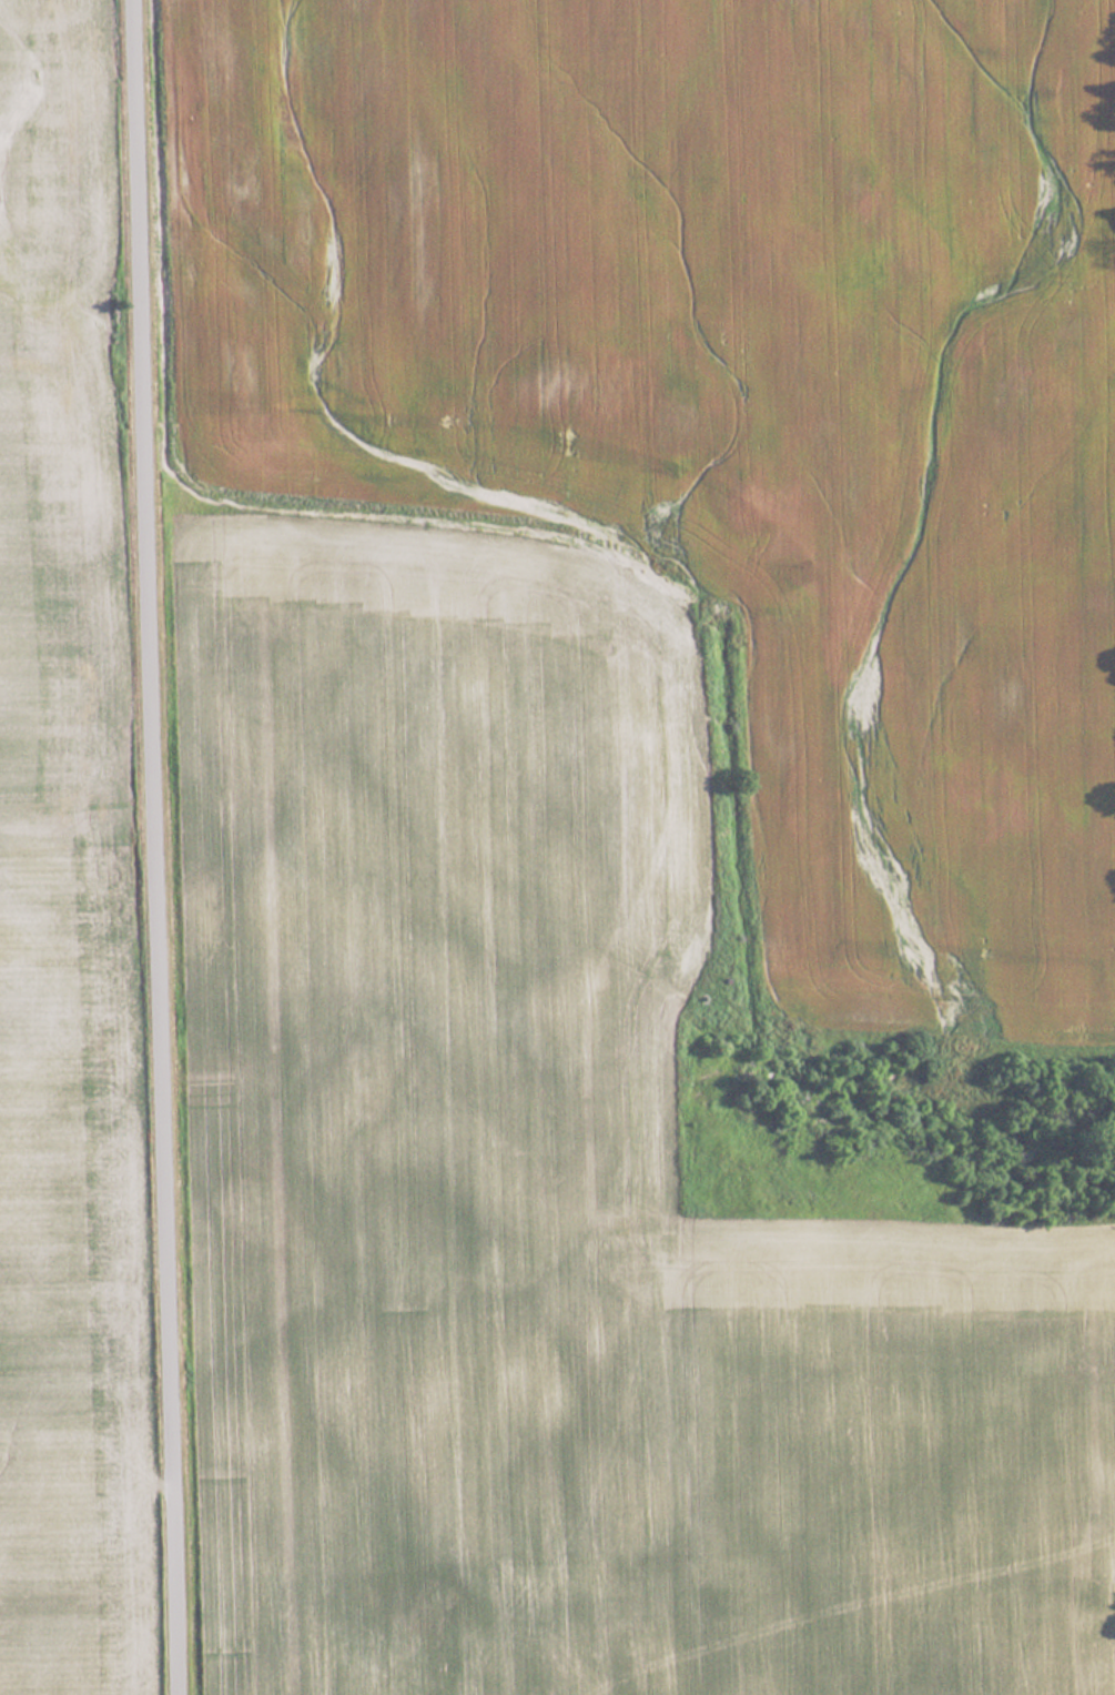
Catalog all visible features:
road: (154, 847)
building: (334, 1645)
building: (396, 1659)

